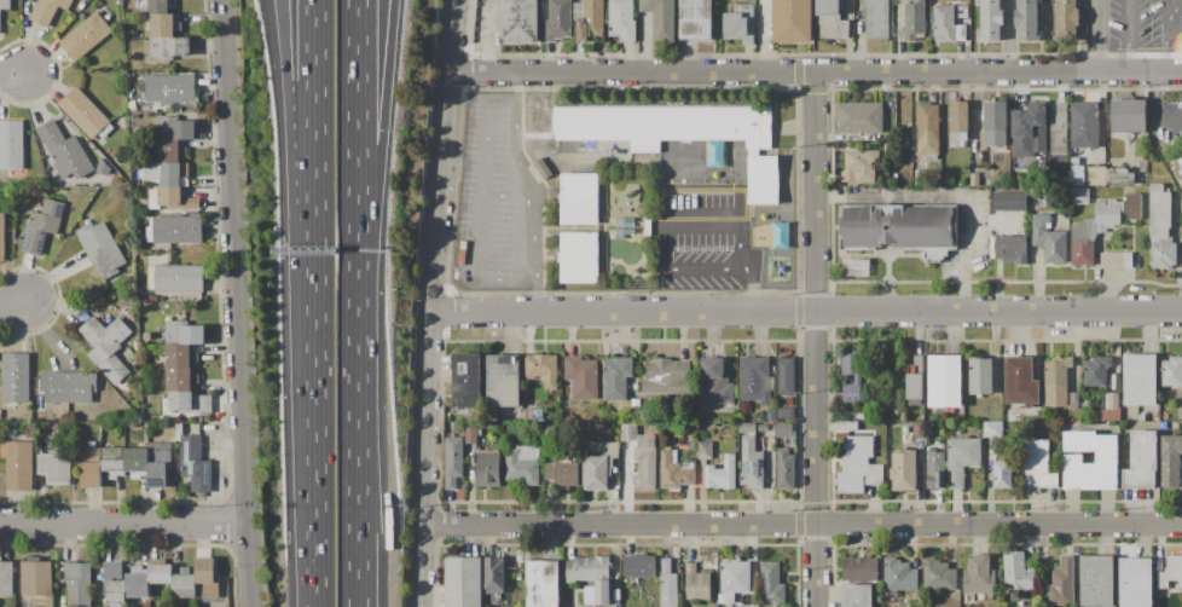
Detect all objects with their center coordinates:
building: (5, 5)
building: (81, 5)
building: (158, 6)
building: (578, 7)
building: (47, 10)
building: (962, 11)
building: (661, 18)
building: (877, 18)
building: (914, 18)
building: (557, 19)
building: (621, 19)
building: (695, 19)
building: (793, 19)
building: (830, 19)
building: (990, 19)
building: (517, 21)
building: (590, 21)
building: (1027, 21)
building: (1066, 21)
building: (740, 23)
building: (162, 24)
building: (948, 25)
building: (85, 35)
road: (1167, 35)
road: (1010, 36)
road: (1096, 36)
road: (1125, 36)
building: (1178, 41)
building: (169, 48)
road: (12, 71)
road: (816, 74)
building: (170, 88)
building: (132, 105)
road: (1154, 108)
building: (85, 114)
building: (960, 116)
building: (1129, 116)
building: (858, 117)
building: (666, 122)
building: (996, 122)
building: (1083, 125)
building: (175, 126)
building: (928, 128)
building: (1060, 129)
building: (138, 131)
building: (1029, 131)
building: (1153, 132)
road: (355, 137)
road: (373, 137)
building: (11, 145)
building: (64, 151)
building: (167, 151)
building: (714, 152)
building: (1181, 161)
building: (858, 166)
building: (103, 167)
building: (539, 172)
building: (1101, 177)
building: (763, 179)
building: (975, 179)
road: (296, 180)
road: (314, 180)
building: (168, 185)
building: (89, 190)
road: (533, 190)
building: (686, 193)
road: (508, 195)
building: (1079, 195)
building: (679, 196)
building: (579, 200)
building: (1009, 202)
road: (479, 204)
building: (1132, 206)
building: (137, 209)
building: (1159, 210)
building: (1107, 214)
building: (135, 219)
building: (625, 222)
building: (42, 226)
building: (899, 227)
building: (648, 229)
building: (175, 230)
building: (624, 235)
building: (781, 235)
building: (1, 237)
building: (1048, 238)
building: (1082, 243)
road: (737, 244)
building: (100, 248)
building: (1009, 248)
building: (1163, 255)
building: (579, 259)
building: (1114, 259)
building: (772, 262)
building: (856, 267)
building: (781, 268)
building: (178, 277)
building: (152, 297)
road: (244, 302)
road: (434, 302)
road: (13, 303)
road: (807, 311)
building: (184, 334)
building: (147, 336)
road: (818, 341)
building: (108, 346)
building: (178, 355)
building: (919, 360)
building: (543, 369)
building: (1095, 370)
building: (1172, 371)
building: (616, 376)
building: (786, 376)
building: (980, 376)
building: (16, 377)
building: (583, 377)
building: (667, 377)
building: (755, 378)
building: (857, 378)
building: (1140, 378)
building: (467, 380)
building: (504, 381)
building: (714, 381)
building: (944, 381)
building: (1020, 381)
building: (1056, 381)
building: (1114, 381)
building: (915, 386)
building: (68, 387)
building: (635, 387)
building: (179, 388)
building: (789, 400)
building: (1073, 400)
building: (636, 401)
building: (1109, 407)
building: (786, 412)
building: (1, 414)
building: (532, 415)
building: (771, 415)
building: (853, 415)
building: (1008, 418)
building: (846, 426)
building: (748, 427)
building: (920, 428)
building: (179, 429)
building: (784, 429)
building: (990, 429)
building: (628, 430)
building: (30, 434)
building: (470, 434)
building: (1125, 437)
road: (357, 440)
building: (925, 441)
building: (761, 443)
building: (87, 444)
building: (705, 449)
building: (602, 450)
building: (961, 459)
building: (1106, 459)
building: (454, 461)
building: (1141, 461)
building: (1171, 461)
building: (647, 462)
building: (752, 462)
building: (114, 464)
building: (195, 464)
building: (523, 464)
building: (1038, 464)
building: (19, 466)
building: (858, 466)
building: (54, 468)
building: (934, 468)
building: (488, 469)
building: (674, 469)
building: (784, 469)
building: (561, 470)
building: (903, 470)
building: (593, 473)
building: (1002, 473)
building: (720, 474)
building: (157, 475)
road: (314, 484)
road: (123, 525)
road: (800, 525)
building: (589, 566)
building: (639, 566)
building: (112, 568)
building: (859, 568)
building: (1018, 572)
building: (160, 573)
building: (1171, 573)
building: (900, 574)
building: (494, 576)
building: (939, 576)
building: (979, 576)
building: (207, 577)
building: (6, 578)
building: (36, 578)
building: (734, 579)
building: (1095, 580)
building: (77, 582)
building: (464, 582)
building: (1135, 582)
building: (541, 583)
building: (696, 583)
building: (771, 583)
building: (1061, 583)
building: (668, 584)
building: (137, 585)
building: (185, 586)
building: (112, 592)
building: (598, 592)
building: (856, 595)
building: (1164, 597)
building: (686, 606)

